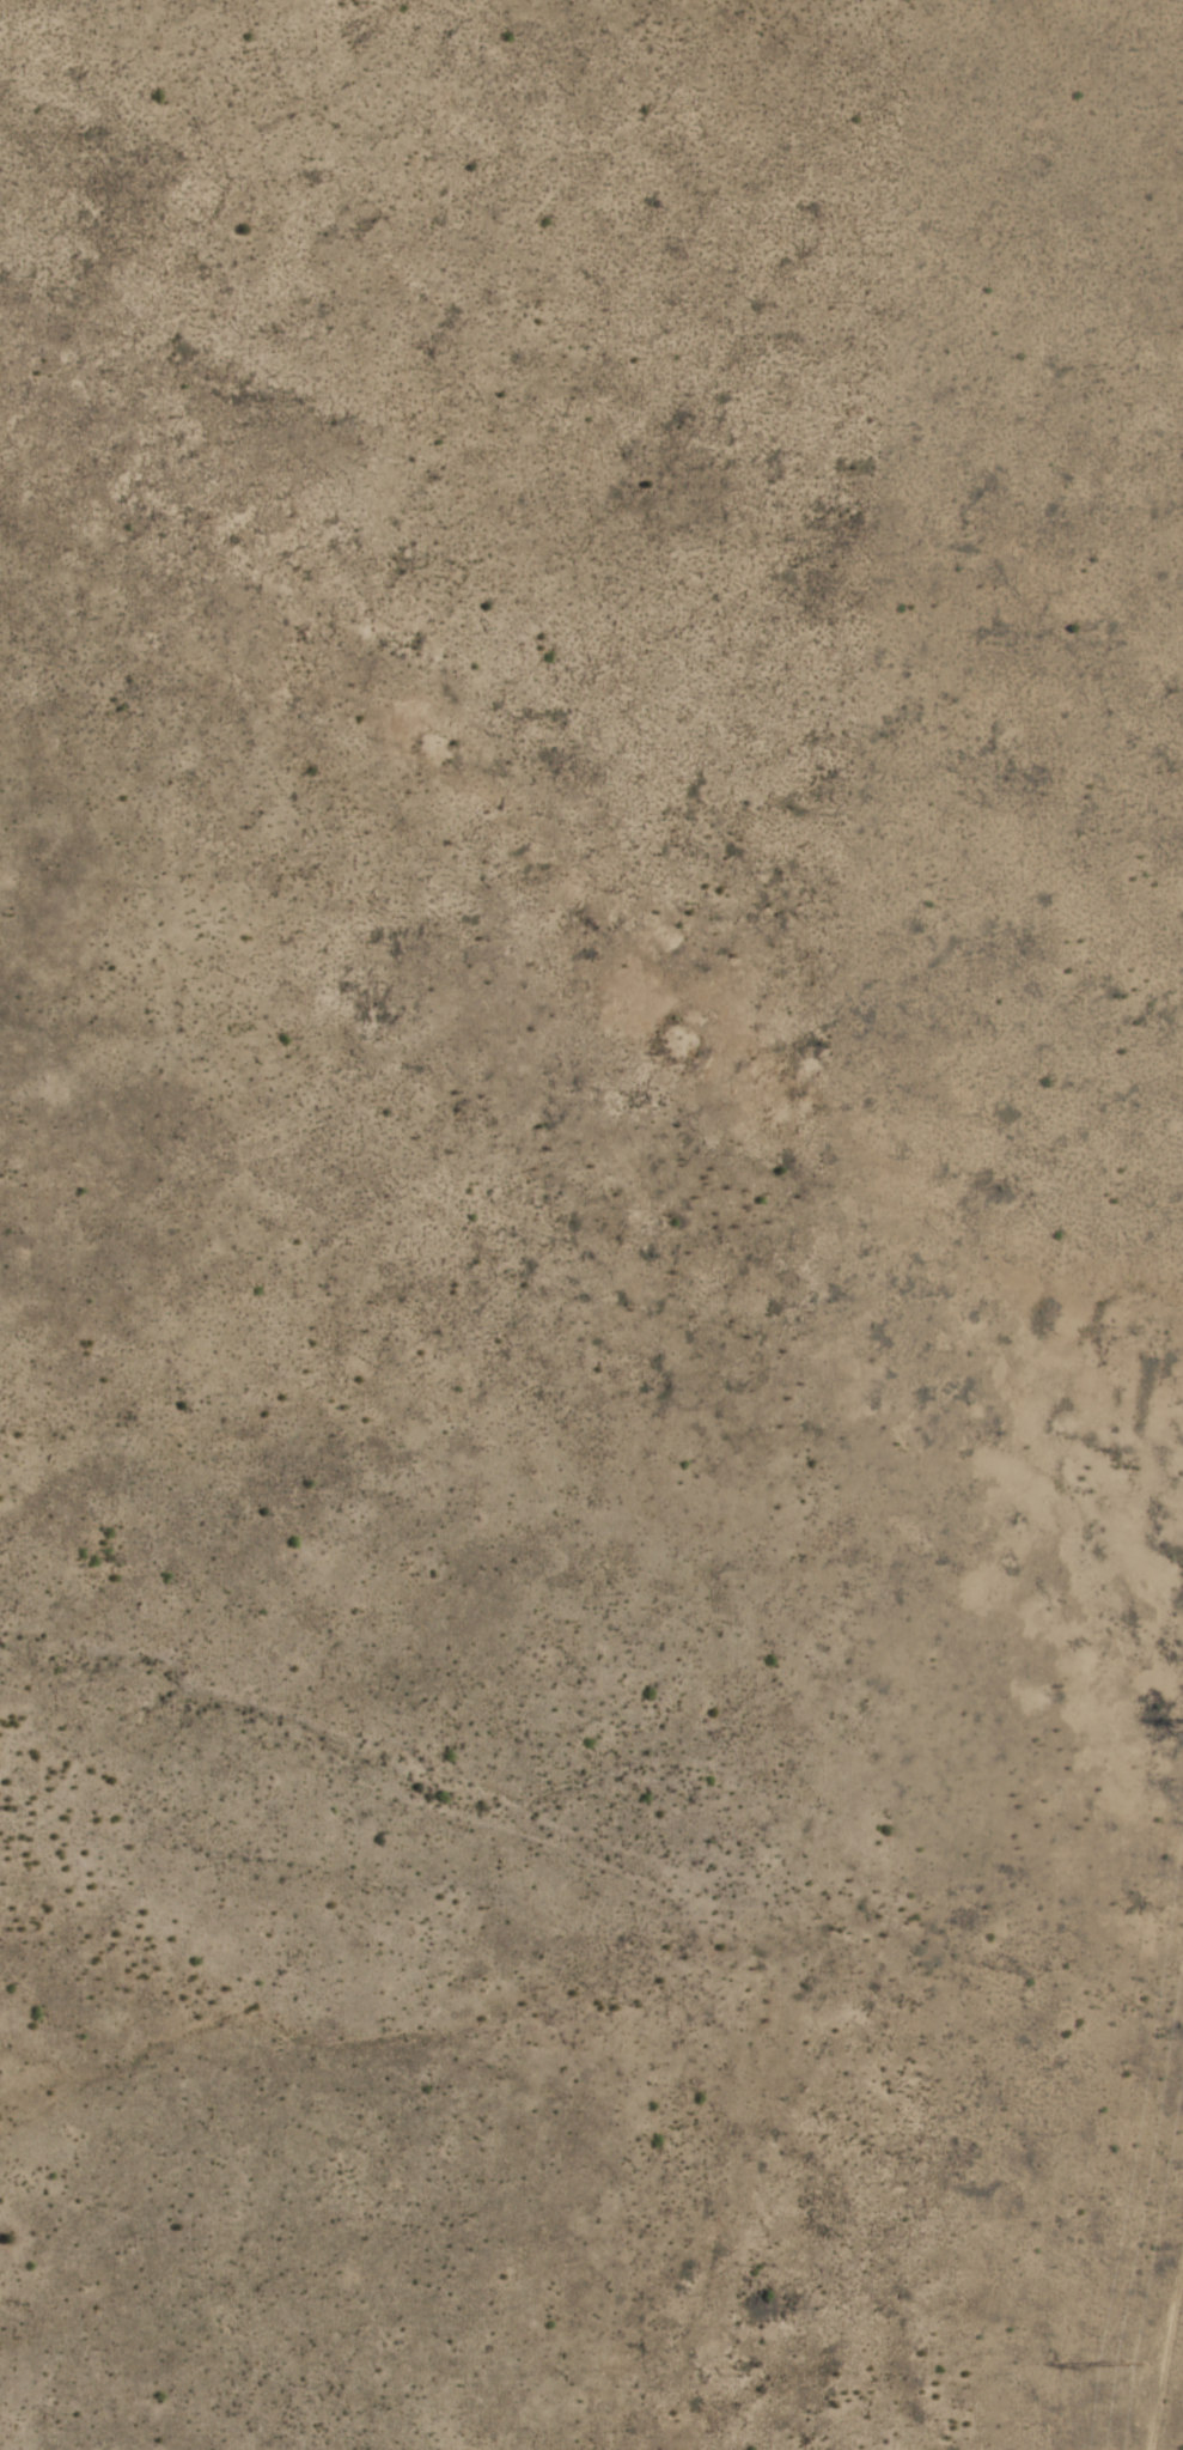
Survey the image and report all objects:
power tower: (1142, 2360)

